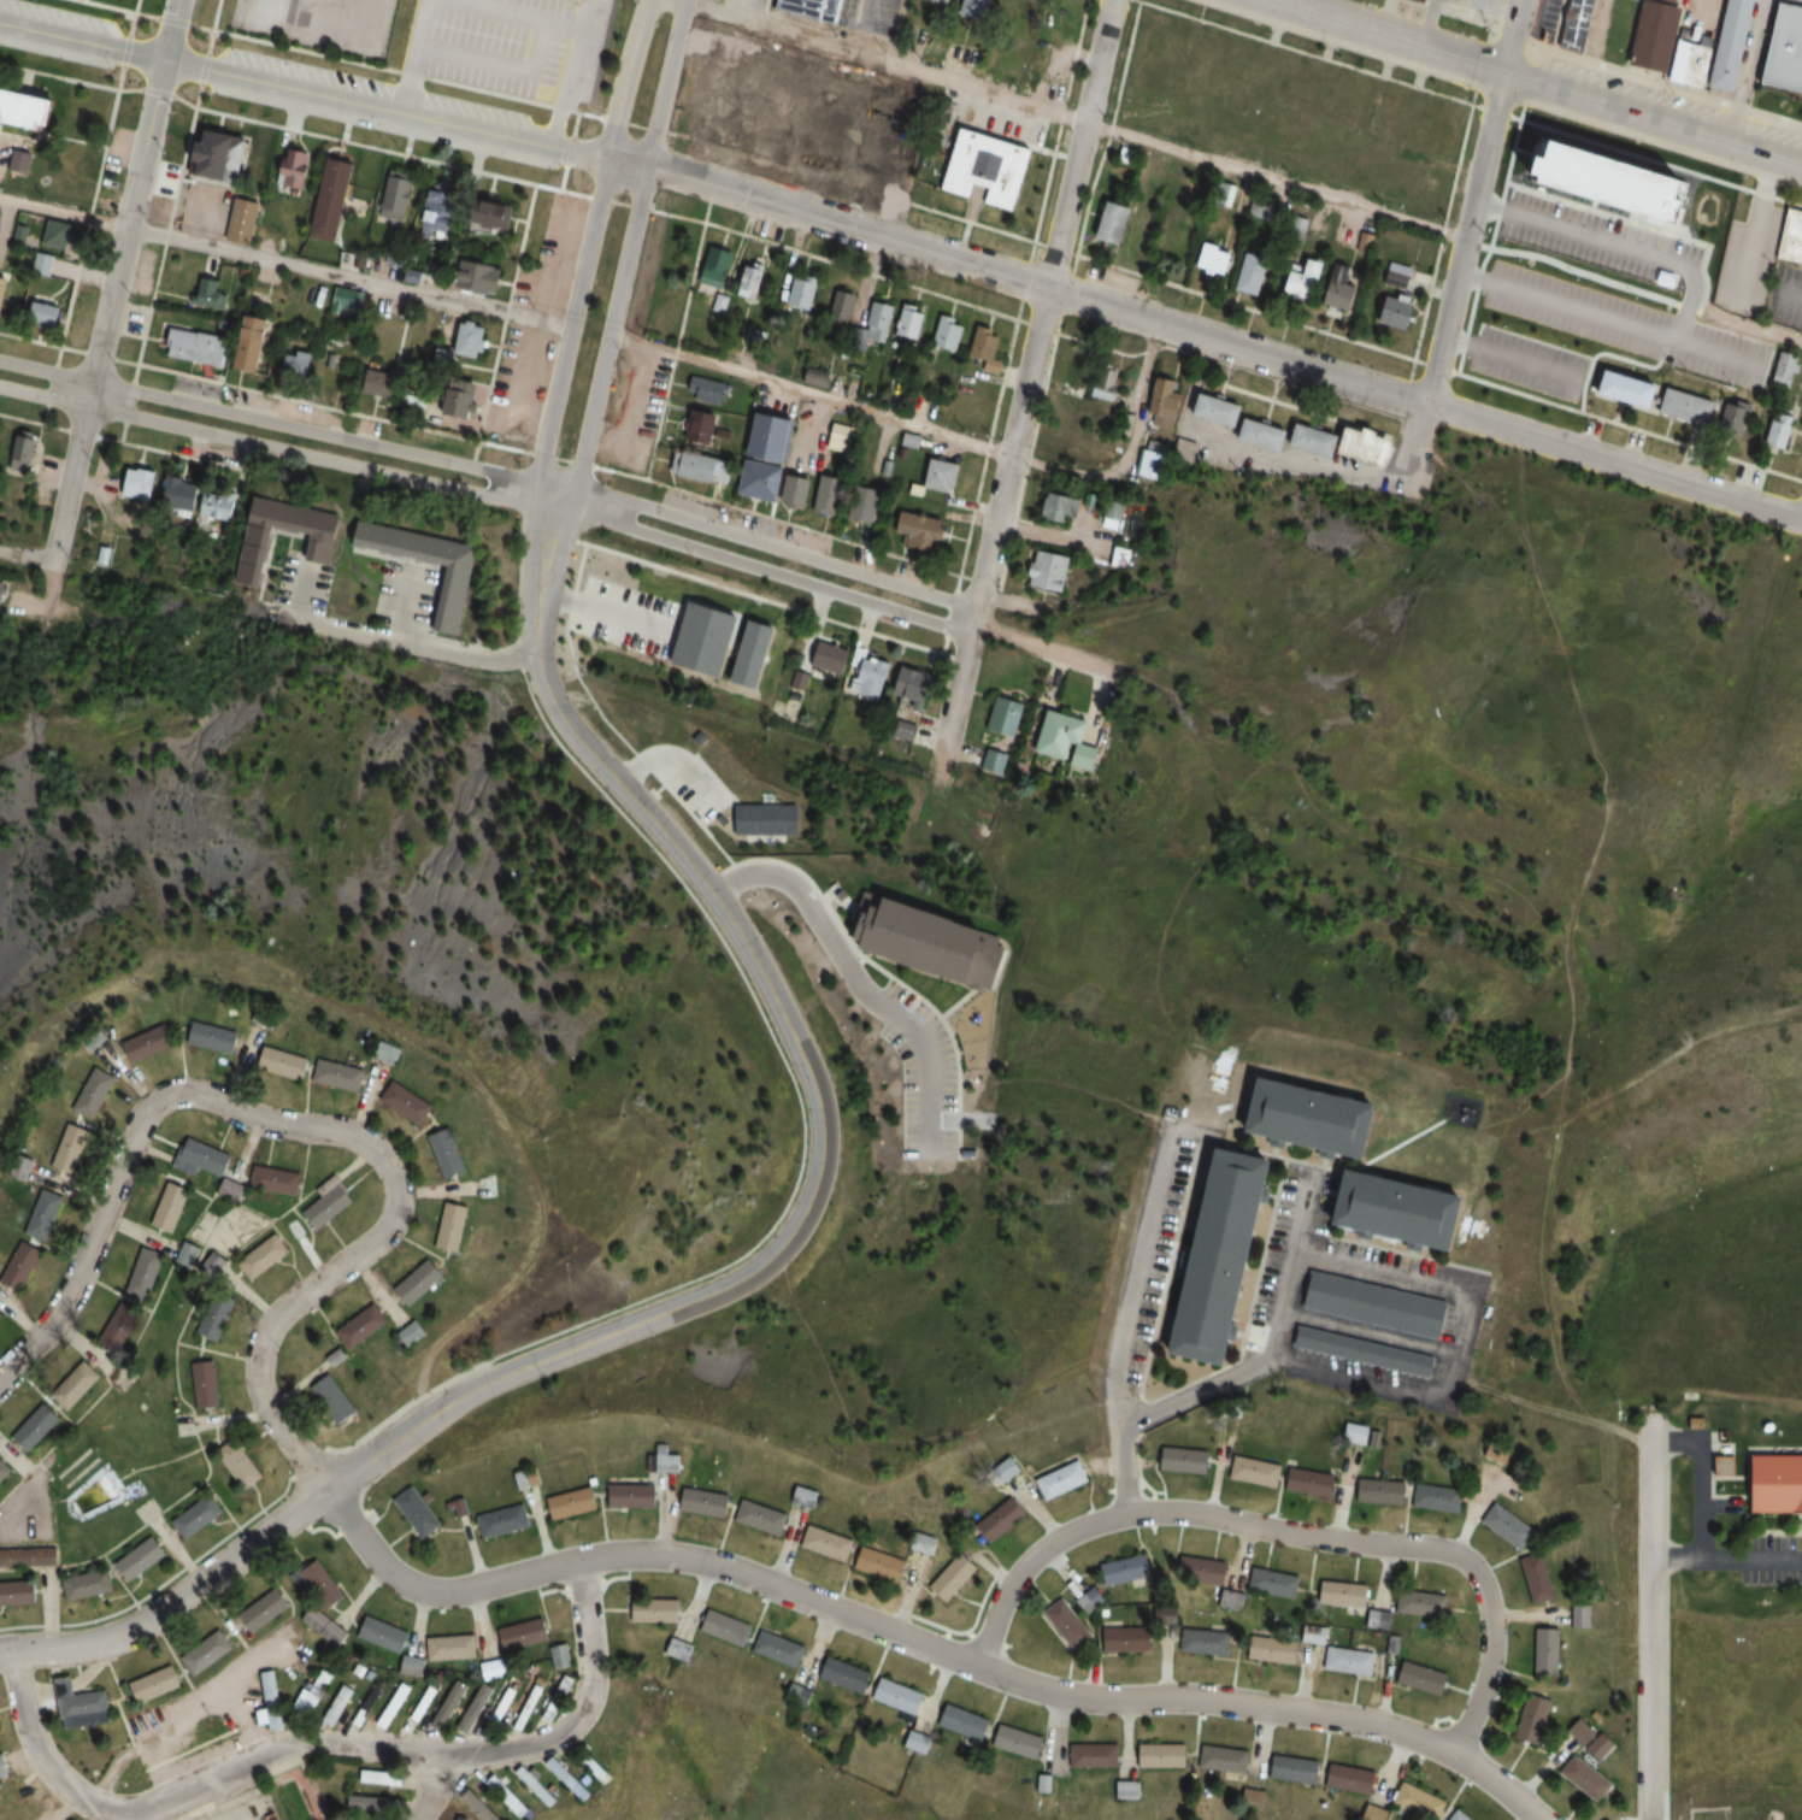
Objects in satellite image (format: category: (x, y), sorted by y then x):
building: (1419, 0)
parking lot: (749, 1)
building: (941, 1)
building: (1663, 1)
building: (978, 6)
road: (114, 7)
building: (814, 10)
building: (1013, 11)
road: (134, 12)
road: (514, 14)
parking lot: (871, 16)
road: (172, 19)
building: (1574, 24)
road: (211, 28)
road: (1509, 35)
building: (1645, 37)
building: (1158, 42)
building: (1722, 45)
parking lot: (510, 47)
road: (125, 49)
building: (1785, 53)
building: (1200, 54)
road: (416, 57)
road: (499, 63)
building: (1683, 65)
road: (202, 67)
building: (764, 67)
road: (393, 69)
road: (569, 69)
building: (1013, 69)
building: (808, 71)
building: (1247, 73)
road: (624, 79)
road: (1536, 82)
road: (664, 84)
building: (1296, 87)
road: (118, 88)
building: (759, 89)
road: (158, 90)
road: (322, 96)
building: (908, 104)
road: (194, 105)
building: (30, 106)
building: (754, 111)
building: (1350, 111)
building: (1390, 116)
road: (1068, 118)
building: (1306, 118)
building: (1137, 120)
building: (754, 135)
building: (1451, 136)
building: (855, 142)
road: (567, 149)
building: (223, 154)
building: (899, 159)
building: (20, 160)
building: (1323, 165)
building: (993, 166)
building: (1355, 166)
building: (293, 170)
road: (563, 177)
building: (1609, 181)
road: (95, 188)
road: (555, 188)
building: (1432, 195)
building: (394, 196)
building: (332, 199)
building: (1260, 208)
building: (440, 210)
building: (494, 212)
building: (1712, 216)
building: (243, 220)
road: (1647, 222)
building: (1114, 223)
road: (1755, 224)
building: (61, 234)
road: (1467, 237)
building: (1788, 237)
building: (1177, 240)
building: (1364, 242)
road: (1660, 252)
parking lot: (1748, 252)
building: (1215, 259)
building: (41, 261)
road: (283, 263)
building: (715, 265)
road: (1590, 270)
building: (1397, 272)
building: (1253, 273)
building: (478, 275)
building: (1305, 279)
building: (748, 281)
road: (112, 283)
building: (1512, 284)
building: (1343, 289)
building: (4, 290)
building: (801, 291)
parking lot: (1786, 291)
road: (1796, 291)
building: (207, 294)
building: (1549, 298)
parking lot: (1595, 298)
building: (343, 300)
road: (1570, 302)
building: (840, 307)
building: (1397, 311)
building: (43, 313)
building: (874, 319)
building: (909, 320)
road: (1749, 324)
building: (949, 332)
building: (1663, 337)
building: (469, 338)
building: (755, 338)
road: (1223, 342)
building: (253, 343)
building: (987, 343)
building: (195, 346)
road: (1510, 353)
building: (1498, 358)
road: (139, 363)
building: (300, 364)
building: (1782, 370)
road: (558, 372)
building: (1073, 373)
building: (1567, 373)
building: (817, 377)
road: (596, 381)
building: (382, 382)
road: (1026, 383)
building: (1107, 383)
building: (706, 389)
building: (1616, 390)
road: (808, 395)
building: (458, 400)
building: (1166, 405)
building: (1678, 407)
building: (1727, 422)
building: (700, 424)
road: (284, 426)
building: (1266, 428)
road: (811, 431)
building: (1771, 435)
building: (841, 438)
building: (1084, 442)
building: (1372, 444)
building: (22, 450)
road: (281, 450)
road: (1130, 450)
building: (768, 455)
building: (1150, 460)
building: (702, 466)
road: (1330, 469)
building: (944, 475)
building: (136, 484)
building: (797, 489)
building: (830, 494)
building: (177, 496)
building: (866, 503)
building: (217, 506)
building: (1060, 507)
building: (1113, 510)
building: (923, 532)
road: (1046, 537)
building: (329, 540)
road: (772, 550)
road: (23, 560)
road: (767, 571)
building: (1048, 571)
building: (2, 591)
road: (300, 591)
building: (458, 596)
road: (405, 606)
road: (263, 609)
building: (752, 632)
road: (414, 644)
road: (1043, 647)
building: (776, 661)
building: (849, 662)
building: (632, 664)
building: (917, 684)
building: (1003, 715)
building: (1064, 740)
road: (809, 908)
building: (915, 937)
road: (755, 966)
building: (267, 1018)
building: (214, 1037)
building: (151, 1043)
building: (389, 1054)
building: (285, 1064)
parking lot: (918, 1072)
road: (924, 1072)
building: (340, 1076)
building: (94, 1092)
building: (410, 1103)
building: (1317, 1117)
road: (316, 1127)
building: (71, 1148)
building: (449, 1153)
building: (206, 1156)
building: (22, 1167)
building: (276, 1179)
building: (489, 1185)
building: (230, 1190)
building: (330, 1202)
building: (170, 1206)
building: (1403, 1208)
building: (43, 1214)
building: (453, 1226)
building: (188, 1254)
building: (1225, 1255)
building: (264, 1256)
road: (1146, 1260)
building: (20, 1265)
building: (146, 1272)
building: (420, 1282)
building: (1376, 1304)
building: (0, 1314)
building: (216, 1315)
building: (120, 1326)
building: (364, 1326)
building: (413, 1332)
building: (1364, 1351)
building: (205, 1384)
building: (75, 1385)
road: (1174, 1396)
building: (336, 1398)
building: (36, 1427)
road: (1124, 1443)
building: (1498, 1453)
building: (1186, 1460)
building: (665, 1461)
building: (240, 1463)
building: (1716, 1468)
building: (4, 1471)
building: (1255, 1471)
road: (1701, 1478)
building: (529, 1479)
building: (1062, 1480)
building: (1312, 1483)
building: (1773, 1485)
road: (324, 1486)
building: (1382, 1491)
building: (634, 1496)
building: (1439, 1496)
building: (806, 1497)
road: (1727, 1497)
building: (705, 1503)
building: (418, 1513)
building: (198, 1516)
building: (761, 1519)
building: (1002, 1519)
building: (505, 1521)
road: (1797, 1524)
building: (1509, 1526)
road: (1286, 1532)
road: (1755, 1533)
building: (826, 1543)
road: (1797, 1547)
building: (29, 1559)
building: (142, 1559)
parking lot: (1772, 1559)
road: (1725, 1560)
building: (881, 1565)
building: (1125, 1569)
building: (1203, 1569)
building: (955, 1577)
building: (1539, 1579)
building: (319, 1582)
building: (1274, 1583)
building: (88, 1585)
building: (18, 1595)
building: (1351, 1595)
building: (1090, 1600)
building: (1423, 1604)
building: (265, 1609)
building: (656, 1610)
building: (1580, 1615)
road: (1649, 1615)
building: (1379, 1619)
building: (1067, 1622)
building: (728, 1627)
building: (384, 1635)
building: (524, 1635)
building: (1317, 1635)
building: (1130, 1639)
road: (924, 1641)
building: (1206, 1642)
building: (782, 1648)
building: (682, 1649)
building: (1273, 1650)
building: (1547, 1650)
building: (442, 1651)
building: (207, 1653)
building: (561, 1656)
building: (1350, 1660)
building: (493, 1669)
building: (358, 1671)
building: (847, 1674)
building: (323, 1675)
building: (1424, 1678)
building: (157, 1684)
building: (803, 1696)
building: (900, 1696)
building: (307, 1698)
building: (559, 1698)
building: (272, 1700)
building: (423, 1703)
building: (337, 1704)
building: (449, 1704)
building: (529, 1704)
building: (394, 1706)
building: (83, 1707)
building: (365, 1707)
building: (476, 1708)
building: (502, 1708)
building: (1535, 1719)
building: (965, 1722)
building: (1592, 1738)
building: (1020, 1742)
road: (43, 1754)
road: (430, 1754)
building: (1095, 1755)
building: (1164, 1755)
building: (1225, 1759)
building: (4, 1766)
building: (1296, 1769)
building: (381, 1777)
building: (1588, 1778)
building: (1353, 1779)
building: (577, 1780)
road: (435, 1787)
building: (543, 1787)
building: (513, 1797)
building: (1421, 1801)
building: (378, 1803)
building: (1461, 1816)

